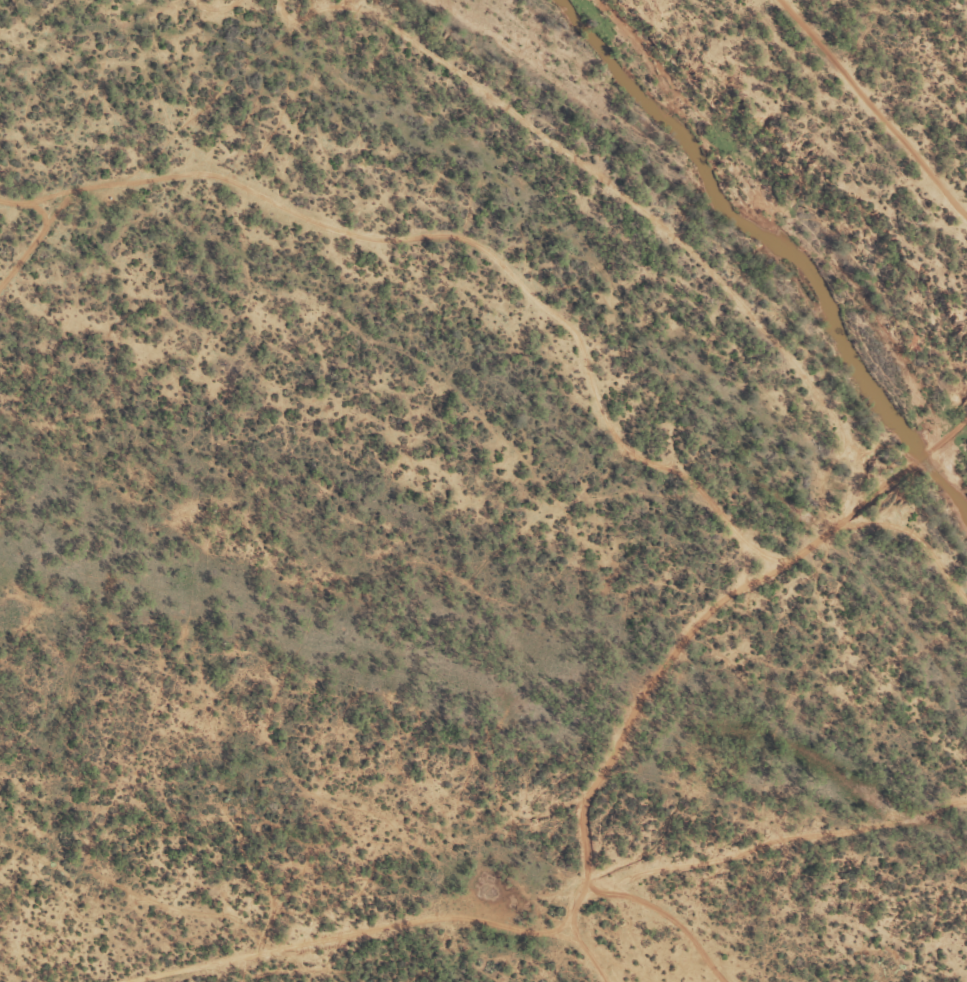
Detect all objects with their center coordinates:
river: (784, 238)
road: (557, 822)

